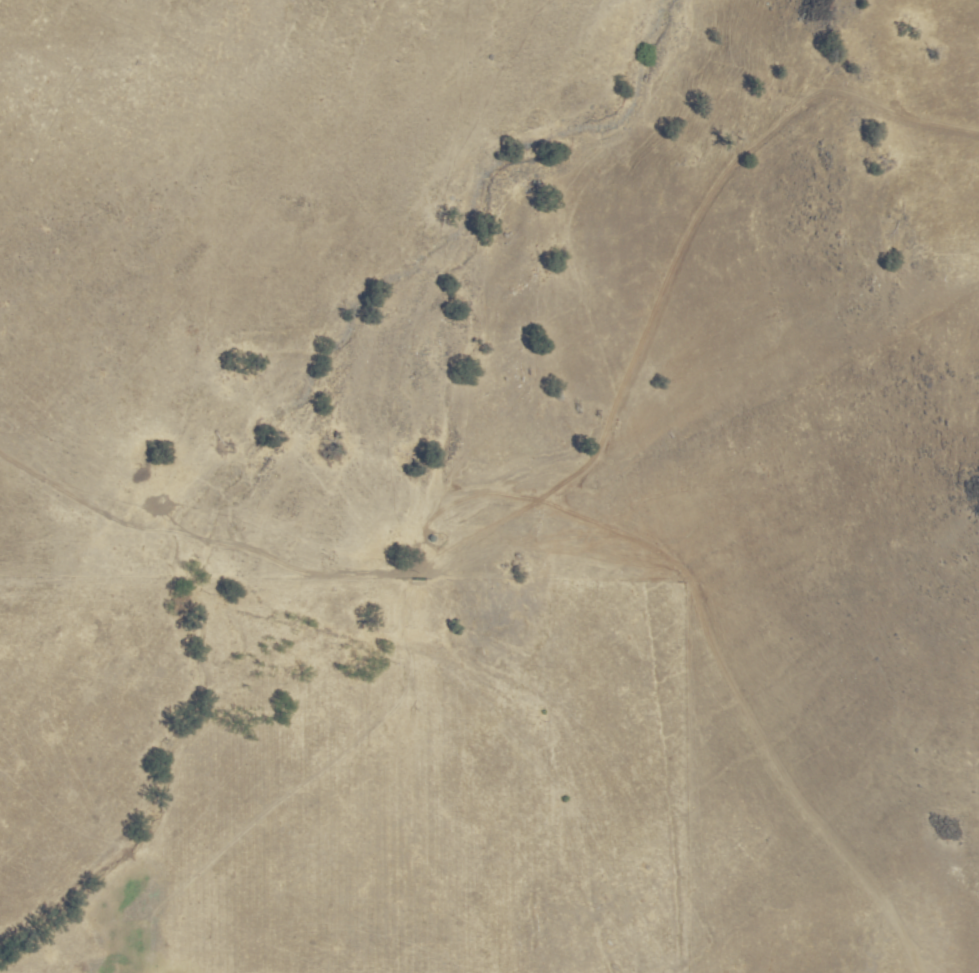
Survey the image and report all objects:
road: (578, 474)
crop: (300, 529)
road: (231, 571)
road: (744, 715)

